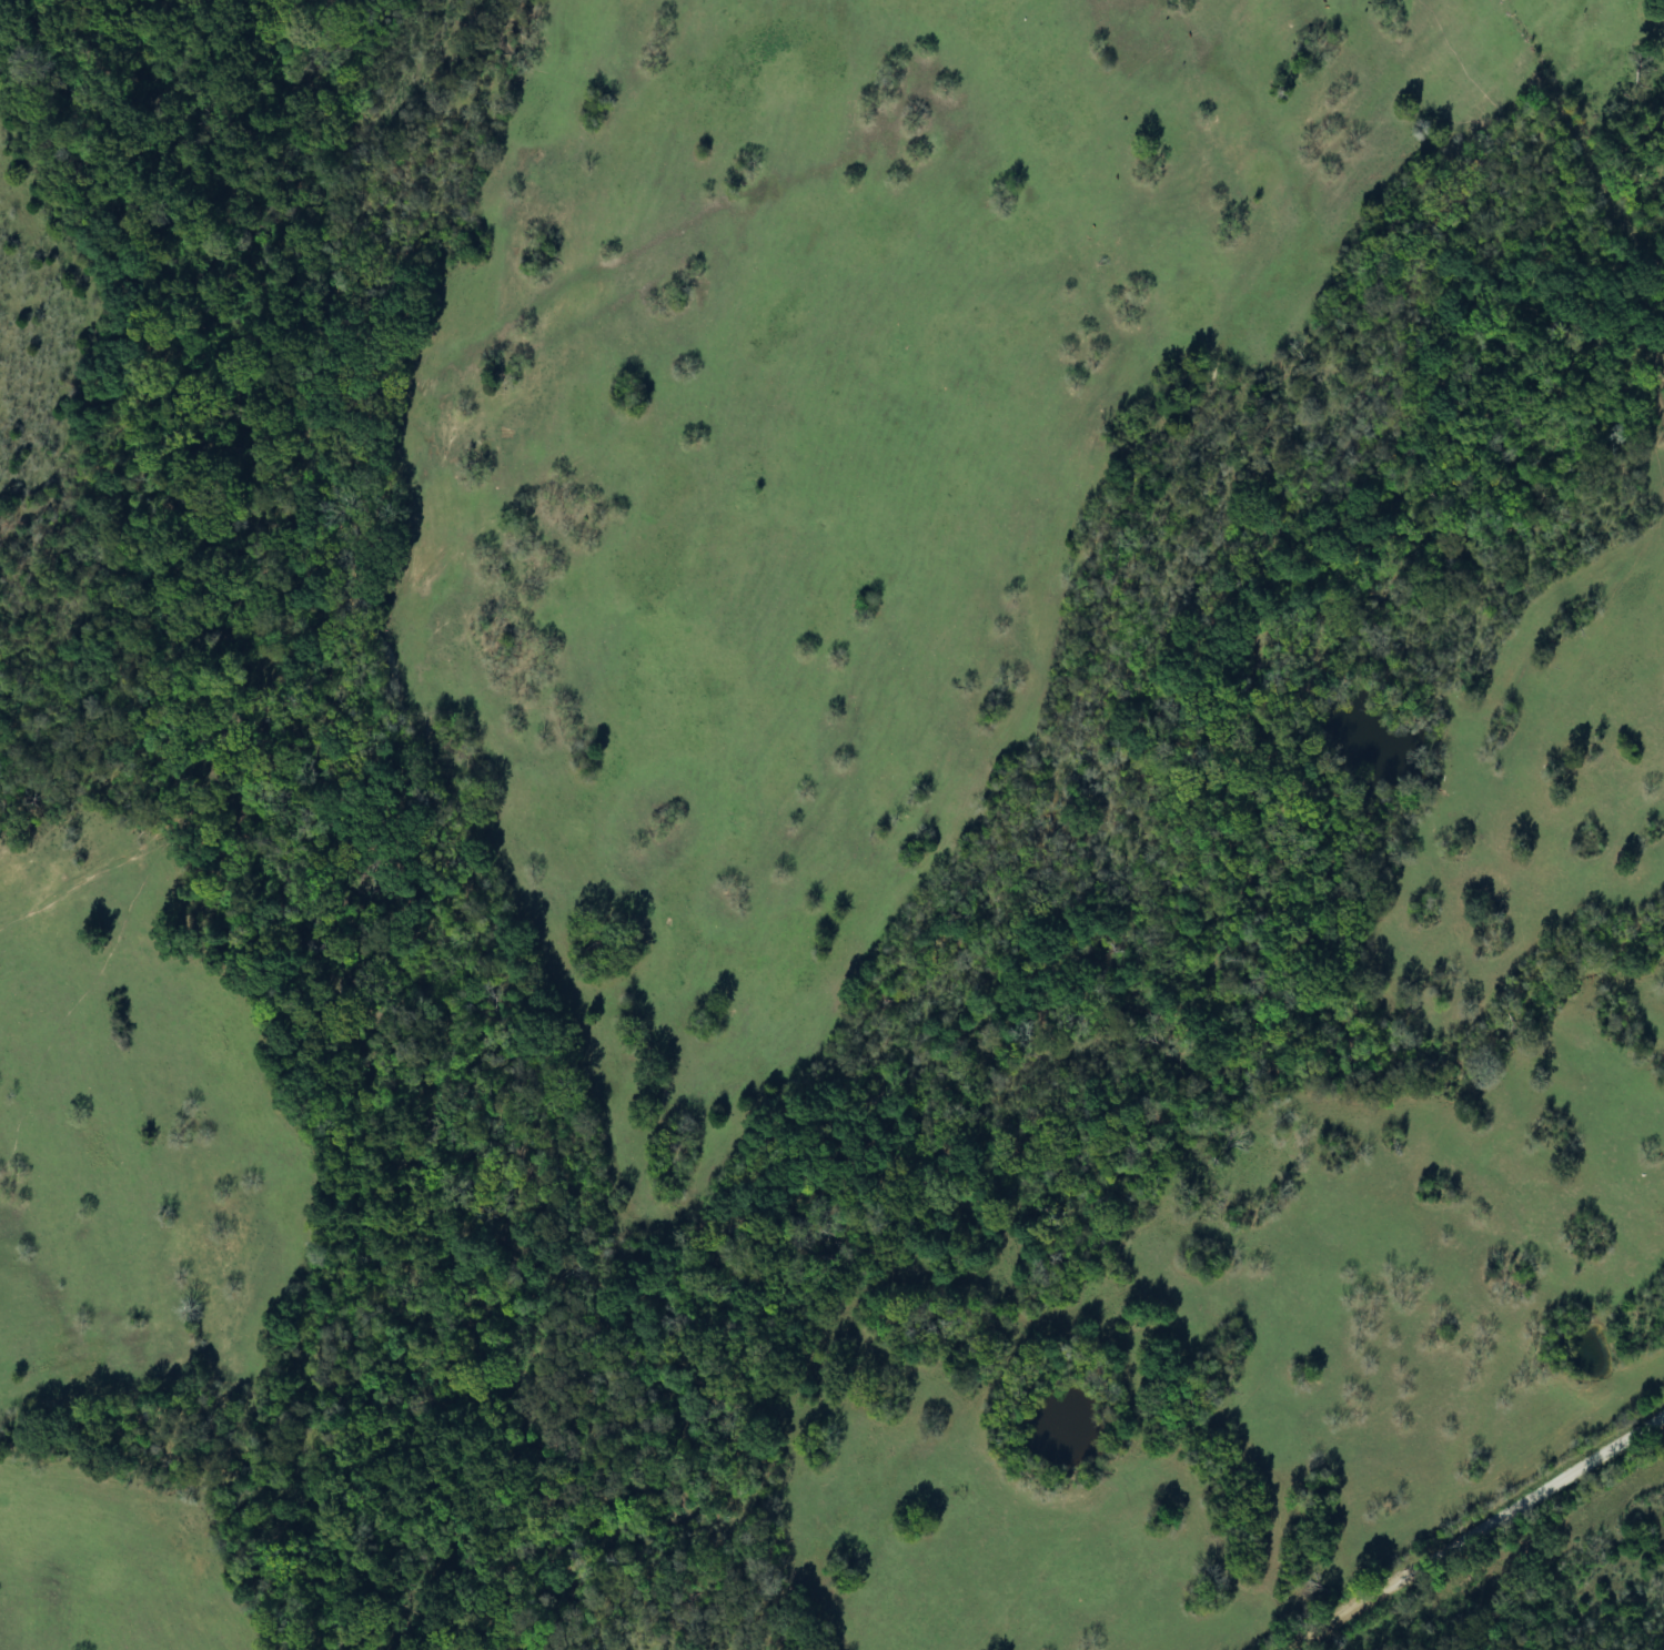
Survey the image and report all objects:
road: (1481, 1533)

